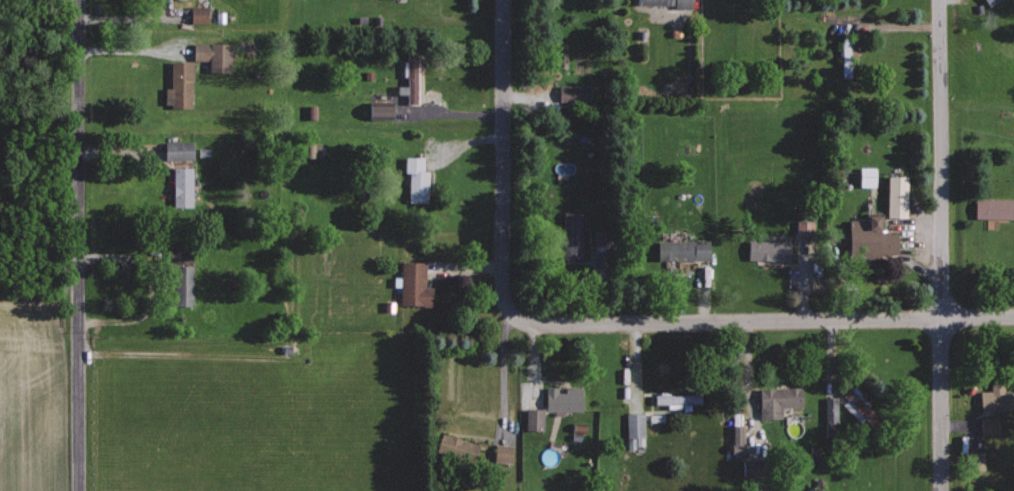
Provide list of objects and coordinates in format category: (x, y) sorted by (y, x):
building: (663, 2)
building: (989, 2)
building: (197, 14)
building: (211, 55)
building: (411, 75)
building: (177, 84)
building: (571, 93)
building: (377, 111)
road: (501, 137)
building: (176, 150)
building: (865, 177)
building: (414, 179)
building: (181, 187)
building: (894, 196)
building: (993, 208)
building: (571, 235)
building: (868, 237)
road: (77, 245)
road: (941, 245)
building: (680, 250)
building: (767, 250)
building: (411, 284)
building: (181, 285)
road: (741, 320)
building: (561, 399)
building: (995, 399)
building: (676, 400)
building: (776, 401)
building: (855, 405)
building: (829, 410)
building: (532, 419)
building: (987, 425)
building: (633, 430)
building: (736, 439)
building: (455, 445)
building: (501, 453)
building: (973, 461)
building: (749, 467)

